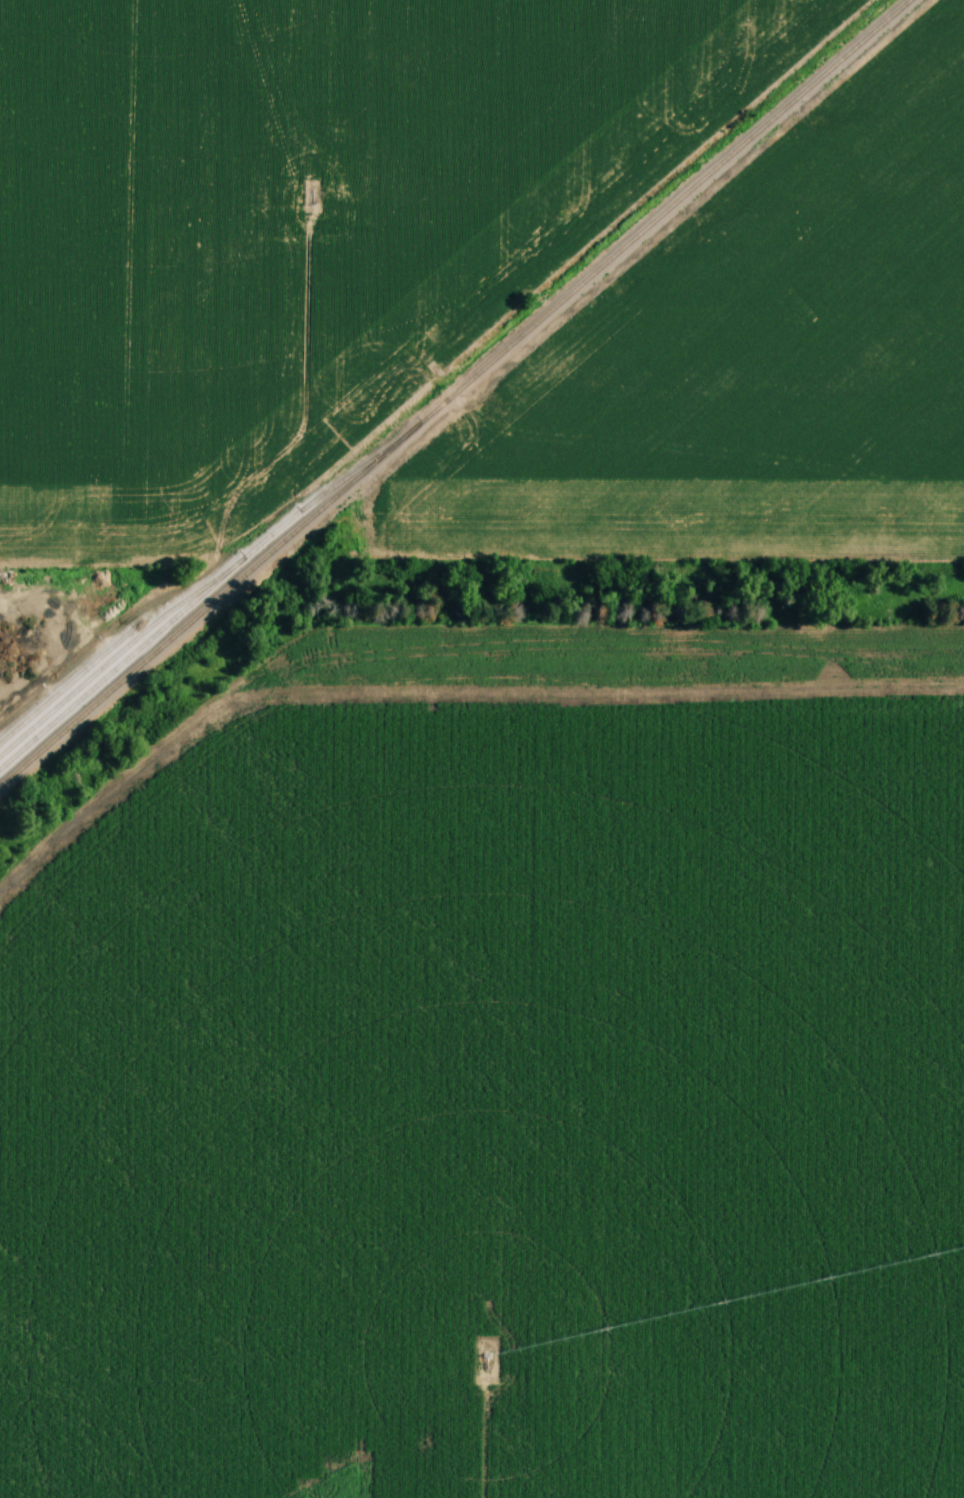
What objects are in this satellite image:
crop: (298, 223)
crop: (746, 363)
railway: (450, 391)
railway: (183, 608)
railway: (112, 659)
railway: (69, 680)
crop: (499, 1078)

